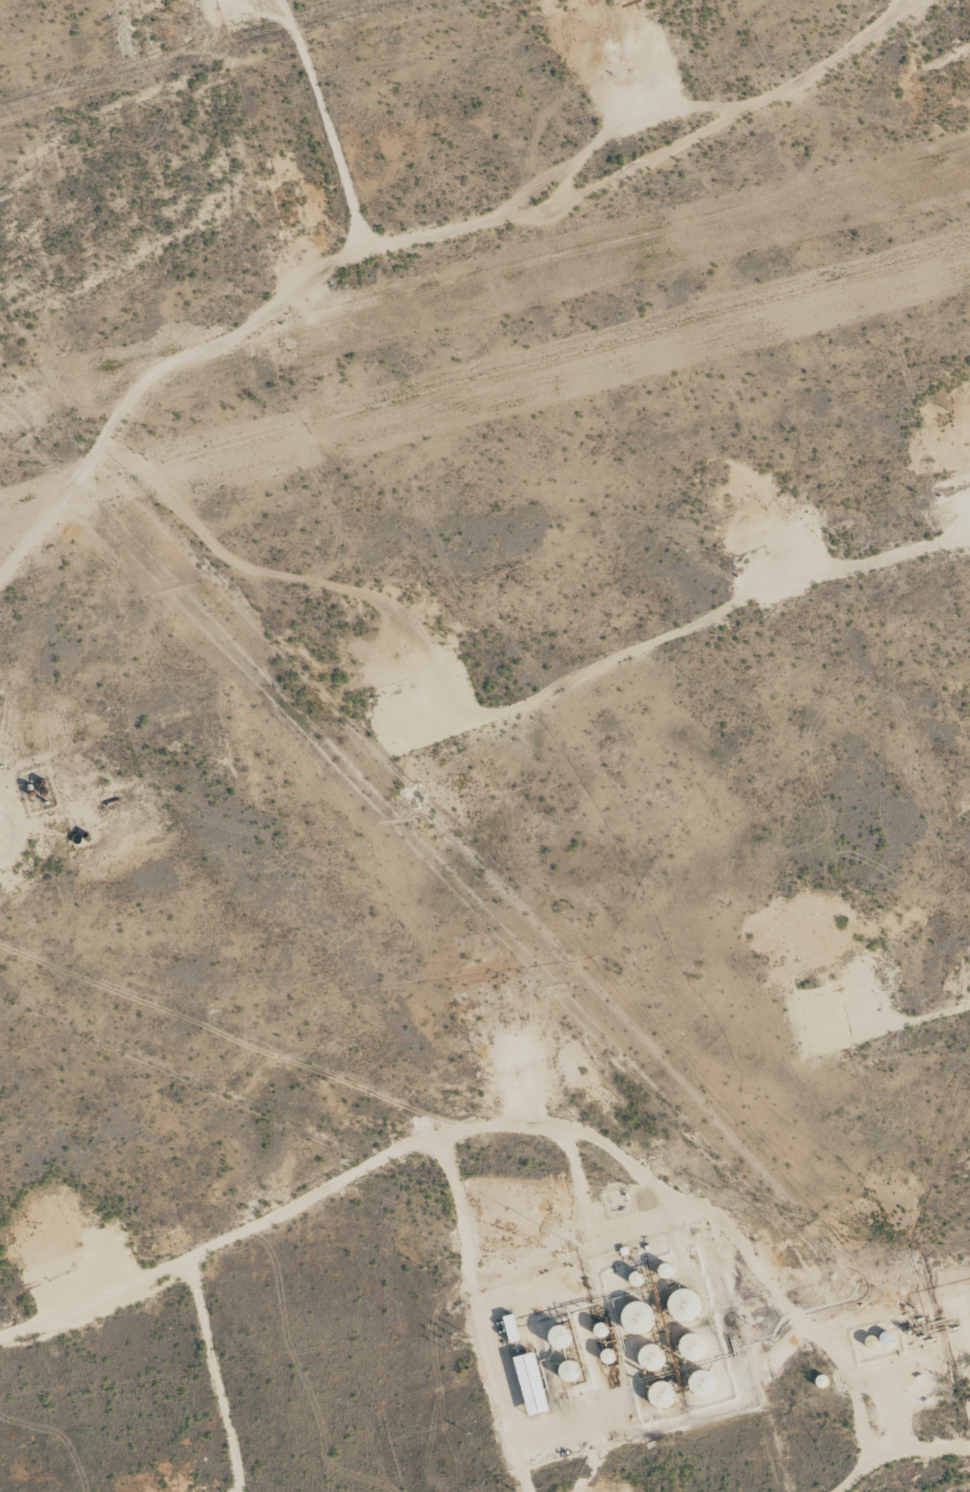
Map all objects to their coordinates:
building: (636, 1317)
building: (529, 1383)

